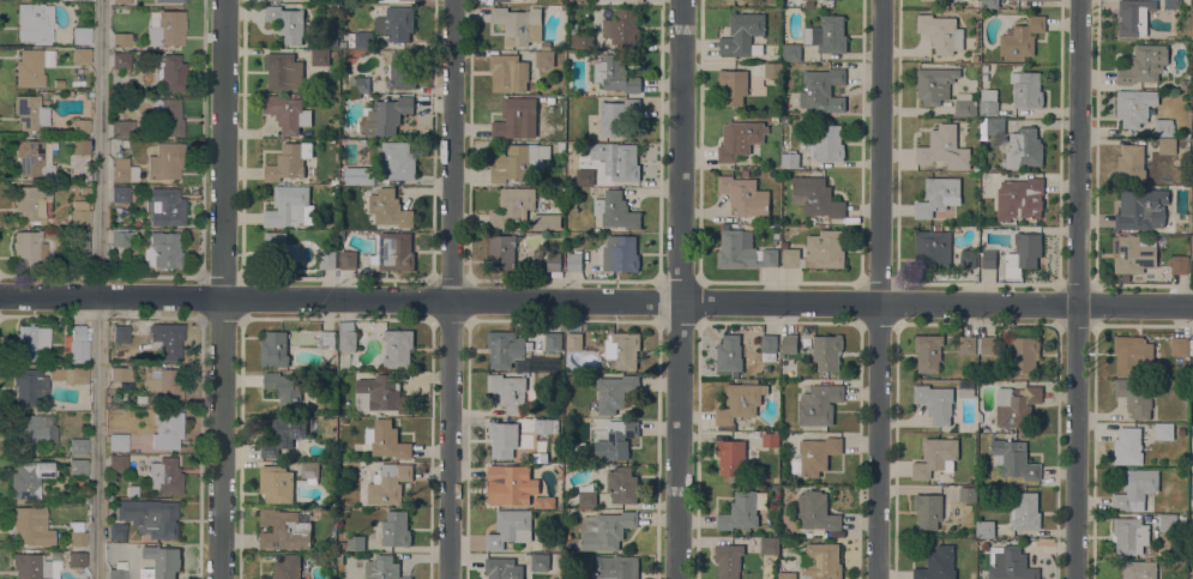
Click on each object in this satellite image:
building: (169, 0)
building: (501, 0)
building: (120, 1)
building: (634, 1)
building: (989, 4)
building: (1173, 4)
building: (1132, 17)
building: (393, 20)
building: (34, 23)
building: (287, 23)
building: (519, 24)
building: (165, 28)
building: (622, 28)
building: (941, 32)
building: (742, 34)
building: (827, 35)
building: (80, 36)
building: (1022, 36)
building: (330, 38)
building: (579, 38)
building: (120, 40)
building: (360, 40)
building: (343, 43)
building: (546, 44)
building: (791, 50)
building: (335, 53)
building: (80, 56)
building: (320, 56)
building: (975, 58)
building: (544, 59)
building: (120, 60)
building: (1144, 64)
building: (31, 67)
building: (984, 67)
building: (772, 68)
building: (284, 71)
building: (400, 71)
building: (508, 72)
building: (170, 73)
building: (615, 73)
building: (984, 77)
building: (360, 84)
building: (935, 84)
building: (1186, 84)
building: (733, 85)
building: (1026, 89)
building: (823, 90)
building: (550, 99)
building: (988, 102)
building: (964, 104)
building: (1134, 107)
building: (29, 111)
building: (288, 113)
building: (386, 115)
building: (514, 115)
building: (615, 115)
building: (165, 117)
building: (79, 126)
building: (992, 126)
building: (1163, 127)
building: (121, 128)
building: (740, 139)
building: (363, 141)
building: (826, 143)
building: (123, 144)
building: (1167, 145)
building: (79, 146)
building: (561, 146)
building: (944, 147)
building: (1024, 147)
building: (32, 157)
building: (397, 159)
building: (789, 159)
building: (164, 161)
building: (289, 161)
building: (518, 162)
building: (623, 163)
building: (1131, 163)
building: (119, 169)
building: (358, 175)
building: (584, 176)
building: (83, 189)
building: (119, 193)
building: (745, 194)
building: (815, 197)
building: (939, 197)
building: (1019, 198)
building: (31, 204)
building: (164, 206)
building: (288, 206)
building: (512, 206)
building: (388, 207)
building: (1141, 209)
building: (616, 210)
building: (79, 212)
building: (547, 221)
building: (120, 237)
building: (77, 246)
building: (279, 247)
building: (560, 247)
building: (1191, 247)
building: (28, 248)
building: (743, 249)
building: (825, 249)
building: (162, 251)
building: (392, 251)
building: (501, 251)
building: (941, 251)
building: (1025, 251)
building: (1134, 252)
building: (620, 253)
building: (791, 258)
building: (988, 258)
building: (327, 259)
building: (347, 259)
building: (574, 260)
building: (553, 261)
building: (1180, 264)
road: (49, 276)
building: (1125, 277)
road: (100, 289)
road: (223, 289)
road: (451, 289)
road: (681, 289)
road: (880, 289)
road: (1078, 289)
road: (596, 300)
road: (49, 313)
building: (119, 333)
building: (347, 337)
building: (167, 339)
building: (326, 339)
building: (553, 340)
building: (573, 340)
building: (789, 343)
building: (26, 344)
building: (966, 344)
building: (987, 344)
building: (77, 345)
building: (1179, 345)
building: (769, 346)
building: (1191, 346)
building: (398, 348)
building: (505, 348)
building: (275, 349)
building: (623, 349)
building: (827, 351)
building: (928, 351)
building: (729, 352)
building: (1023, 352)
building: (1132, 352)
building: (525, 373)
building: (68, 374)
building: (120, 376)
building: (159, 385)
building: (28, 386)
building: (284, 388)
building: (508, 391)
building: (615, 392)
building: (966, 392)
building: (381, 394)
building: (1134, 396)
building: (935, 402)
building: (739, 403)
building: (819, 404)
building: (1016, 404)
building: (544, 426)
building: (165, 430)
building: (1164, 430)
building: (32, 432)
building: (1180, 432)
building: (283, 434)
building: (386, 439)
building: (502, 439)
building: (613, 439)
building: (770, 439)
building: (118, 442)
building: (77, 446)
building: (1128, 446)
building: (571, 447)
building: (519, 453)
building: (730, 456)
building: (814, 456)
building: (570, 457)
building: (935, 457)
building: (1014, 458)
building: (116, 463)
building: (77, 468)
building: (309, 471)
building: (164, 476)
building: (28, 478)
building: (276, 483)
building: (388, 483)
building: (511, 484)
building: (621, 484)
building: (1135, 489)
building: (131, 490)
building: (968, 494)
building: (588, 495)
building: (544, 501)
building: (742, 509)
building: (928, 509)
building: (817, 511)
building: (1025, 511)
building: (145, 518)
building: (1170, 521)
building: (30, 526)
building: (396, 527)
building: (510, 527)
building: (605, 529)
building: (986, 529)
building: (283, 530)
building: (1191, 530)
building: (76, 533)
building: (1132, 536)
building: (354, 542)
building: (113, 545)
building: (767, 545)
building: (76, 559)
building: (728, 560)
building: (540, 561)
building: (823, 561)
building: (161, 562)
building: (938, 563)
building: (1010, 563)
building: (611, 566)
building: (30, 567)
building: (287, 567)
building: (382, 567)
building: (502, 568)
building: (1139, 569)
building: (116, 574)
building: (787, 575)

